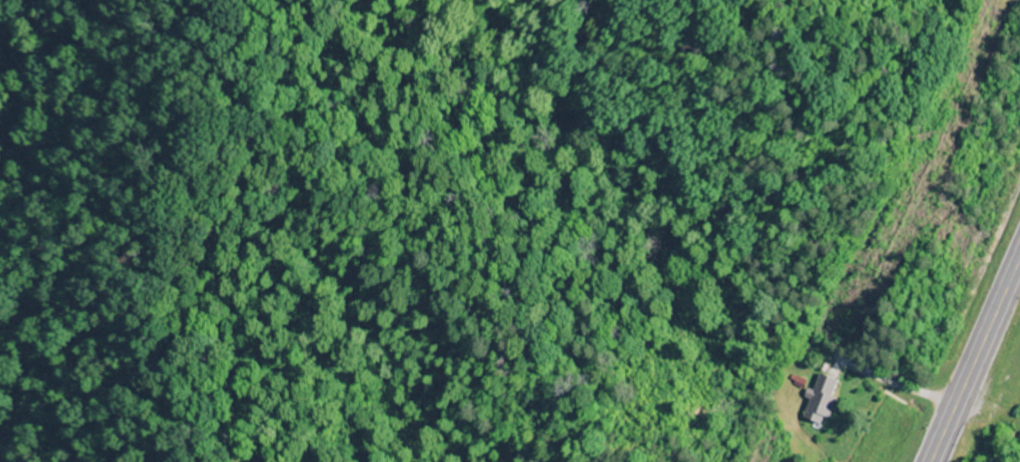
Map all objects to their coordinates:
road: (978, 367)
building: (824, 398)

